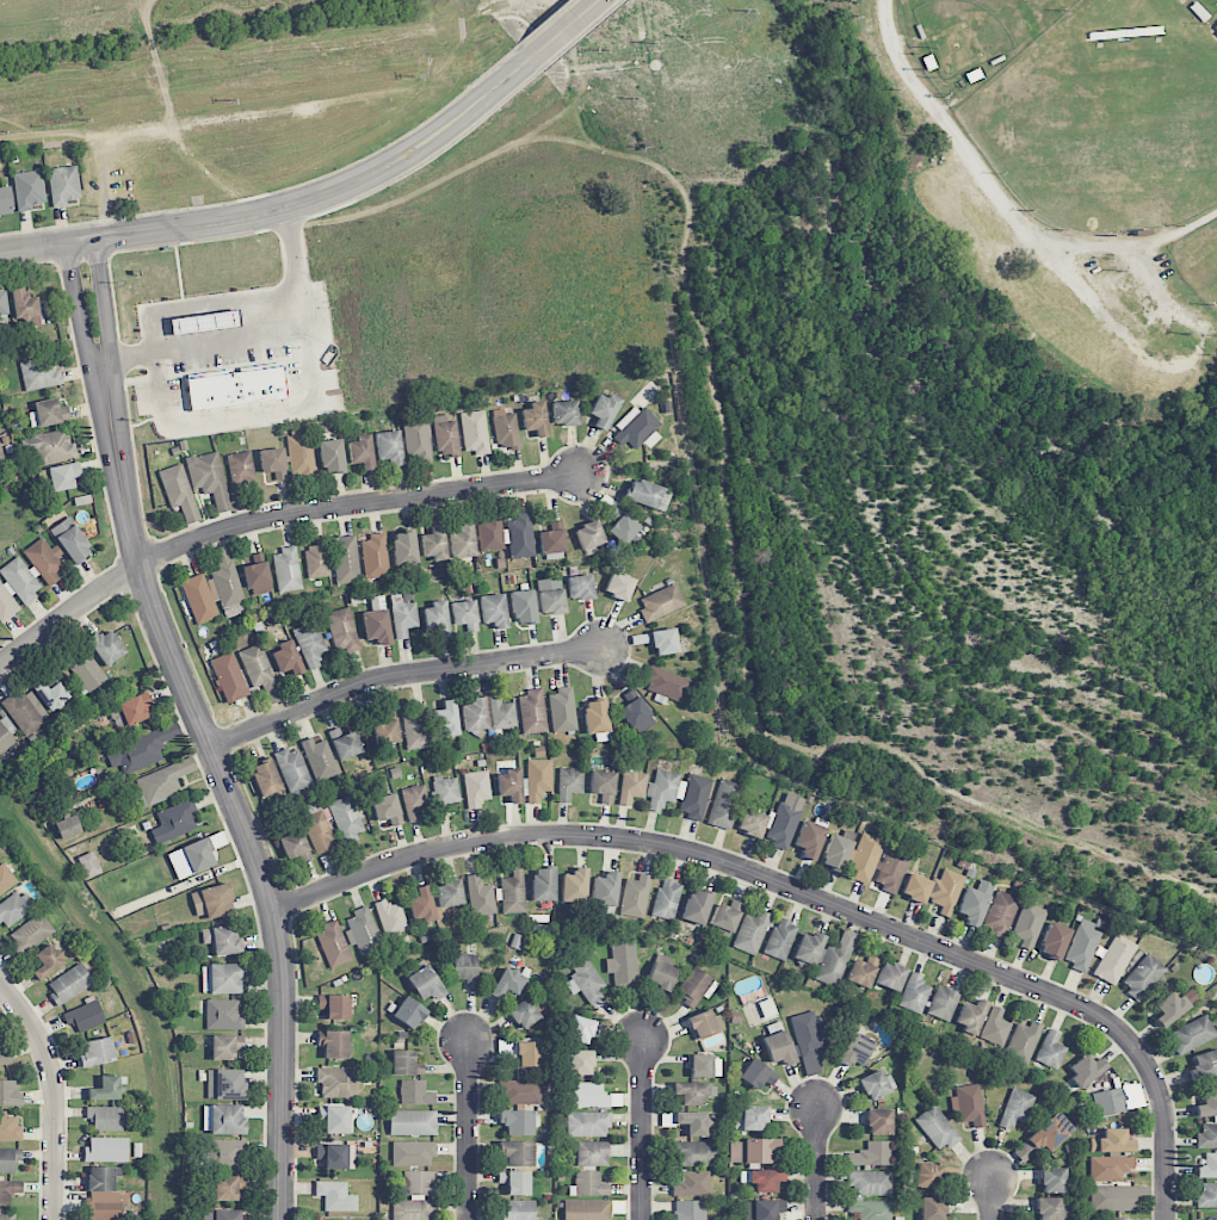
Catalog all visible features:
building: (1216, 26)
road: (564, 29)
building: (63, 185)
building: (27, 190)
building: (5, 200)
road: (1002, 204)
road: (285, 209)
road: (104, 301)
road: (75, 304)
building: (25, 306)
building: (2, 308)
road: (228, 337)
building: (39, 373)
building: (236, 389)
building: (603, 409)
road: (268, 411)
building: (48, 413)
building: (564, 413)
building: (535, 419)
building: (635, 427)
building: (506, 431)
building: (475, 433)
building: (446, 436)
building: (416, 441)
building: (50, 446)
building: (389, 447)
building: (360, 452)
building: (299, 454)
building: (330, 456)
building: (1, 459)
building: (273, 462)
building: (241, 466)
building: (63, 476)
building: (209, 478)
building: (179, 491)
building: (647, 494)
road: (267, 520)
building: (623, 528)
building: (507, 535)
building: (588, 535)
building: (551, 537)
building: (462, 539)
building: (70, 540)
building: (434, 544)
building: (403, 547)
building: (375, 556)
building: (345, 559)
building: (316, 561)
building: (286, 570)
building: (257, 574)
building: (27, 576)
building: (226, 580)
building: (619, 586)
building: (580, 587)
building: (551, 595)
building: (199, 599)
building: (661, 602)
building: (523, 607)
building: (494, 611)
building: (464, 614)
building: (403, 617)
building: (435, 620)
building: (376, 626)
building: (342, 630)
building: (663, 642)
building: (310, 644)
building: (106, 648)
building: (286, 658)
building: (260, 671)
building: (88, 673)
road: (403, 675)
building: (229, 677)
building: (667, 686)
building: (51, 695)
building: (134, 708)
building: (26, 711)
building: (562, 711)
building: (635, 711)
building: (532, 712)
building: (502, 713)
building: (475, 714)
building: (445, 718)
building: (597, 719)
building: (416, 727)
building: (385, 730)
building: (6, 736)
building: (345, 743)
building: (141, 750)
building: (320, 758)
building: (292, 769)
building: (265, 778)
building: (163, 781)
building: (526, 782)
building: (569, 784)
road: (228, 785)
building: (603, 785)
building: (631, 786)
building: (476, 788)
building: (661, 789)
building: (445, 793)
building: (693, 797)
building: (415, 801)
building: (724, 805)
building: (387, 809)
building: (346, 817)
building: (785, 820)
building: (174, 822)
building: (750, 823)
building: (67, 828)
building: (319, 829)
building: (809, 840)
building: (295, 847)
building: (835, 853)
building: (864, 857)
building: (191, 859)
building: (88, 865)
building: (891, 869)
building: (6, 879)
building: (543, 884)
building: (574, 886)
road: (803, 890)
building: (934, 890)
building: (513, 892)
building: (604, 892)
building: (449, 893)
building: (635, 896)
building: (480, 897)
building: (666, 899)
building: (211, 902)
building: (974, 904)
building: (421, 905)
building: (697, 906)
building: (16, 908)
building: (1000, 915)
building: (725, 916)
building: (390, 918)
building: (1027, 924)
building: (362, 930)
building: (750, 931)
building: (30, 933)
building: (222, 939)
building: (780, 939)
building: (1054, 940)
building: (333, 945)
building: (1082, 946)
building: (824, 955)
building: (1113, 959)
building: (47, 961)
building: (623, 964)
building: (465, 970)
building: (861, 970)
building: (661, 976)
building: (890, 976)
building: (1142, 977)
building: (223, 978)
building: (585, 980)
building: (69, 984)
building: (425, 984)
building: (508, 984)
building: (696, 987)
building: (914, 993)
building: (943, 1003)
building: (334, 1007)
building: (1173, 1007)
building: (409, 1012)
building: (523, 1014)
building: (223, 1015)
building: (84, 1016)
building: (971, 1016)
building: (704, 1023)
building: (995, 1027)
building: (583, 1029)
building: (1192, 1034)
building: (808, 1041)
building: (1023, 1042)
building: (334, 1043)
building: (777, 1045)
building: (224, 1046)
building: (855, 1049)
building: (1050, 1051)
building: (97, 1052)
building: (4, 1054)
building: (527, 1054)
building: (580, 1063)
building: (403, 1064)
building: (1203, 1065)
building: (700, 1066)
building: (1086, 1070)
building: (756, 1075)
building: (336, 1083)
building: (224, 1084)
building: (876, 1085)
building: (106, 1089)
road: (56, 1091)
building: (521, 1091)
building: (415, 1092)
building: (693, 1092)
building: (8, 1094)
building: (585, 1096)
building: (1108, 1102)
building: (1207, 1106)
building: (1017, 1108)
building: (754, 1117)
building: (105, 1119)
building: (223, 1119)
building: (335, 1119)
building: (517, 1121)
building: (878, 1121)
building: (413, 1122)
building: (694, 1123)
building: (587, 1125)
road: (468, 1127)
road: (642, 1127)
building: (937, 1127)
building: (10, 1128)
building: (1051, 1133)
building: (1206, 1137)
building: (1111, 1141)
building: (106, 1150)
building: (753, 1151)
building: (224, 1153)
building: (413, 1153)
building: (517, 1153)
building: (592, 1153)
building: (696, 1153)
building: (872, 1154)
building: (336, 1156)
building: (8, 1159)
road: (818, 1163)
building: (1207, 1166)
building: (1108, 1168)
building: (935, 1175)
building: (764, 1179)
building: (1052, 1179)
building: (515, 1182)
building: (870, 1183)
building: (591, 1184)
building: (692, 1184)
building: (227, 1187)
building: (8, 1190)
building: (103, 1195)
building: (1207, 1195)
building: (335, 1196)
building: (415, 1197)
road: (993, 1197)
building: (1112, 1197)
building: (932, 1208)
building: (587, 1209)
building: (762, 1209)
building: (871, 1209)
building: (1051, 1209)
building: (514, 1210)
building: (690, 1210)
building: (221, 1215)
building: (8, 1216)
building: (1112, 1218)

